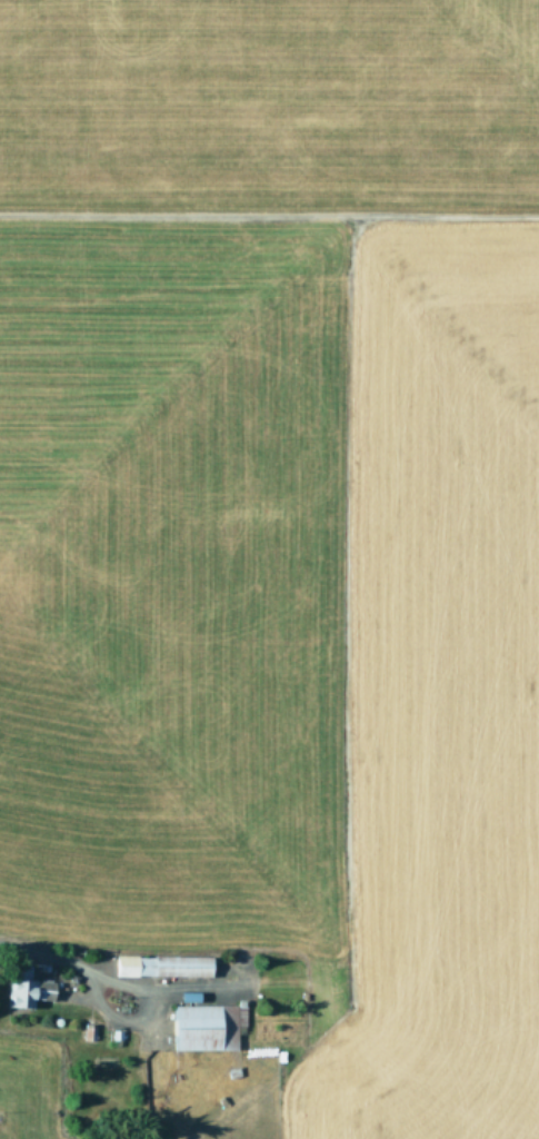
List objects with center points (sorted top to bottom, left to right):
crop: (269, 569)
building: (160, 965)
building: (24, 989)
road: (68, 996)
building: (206, 1027)

